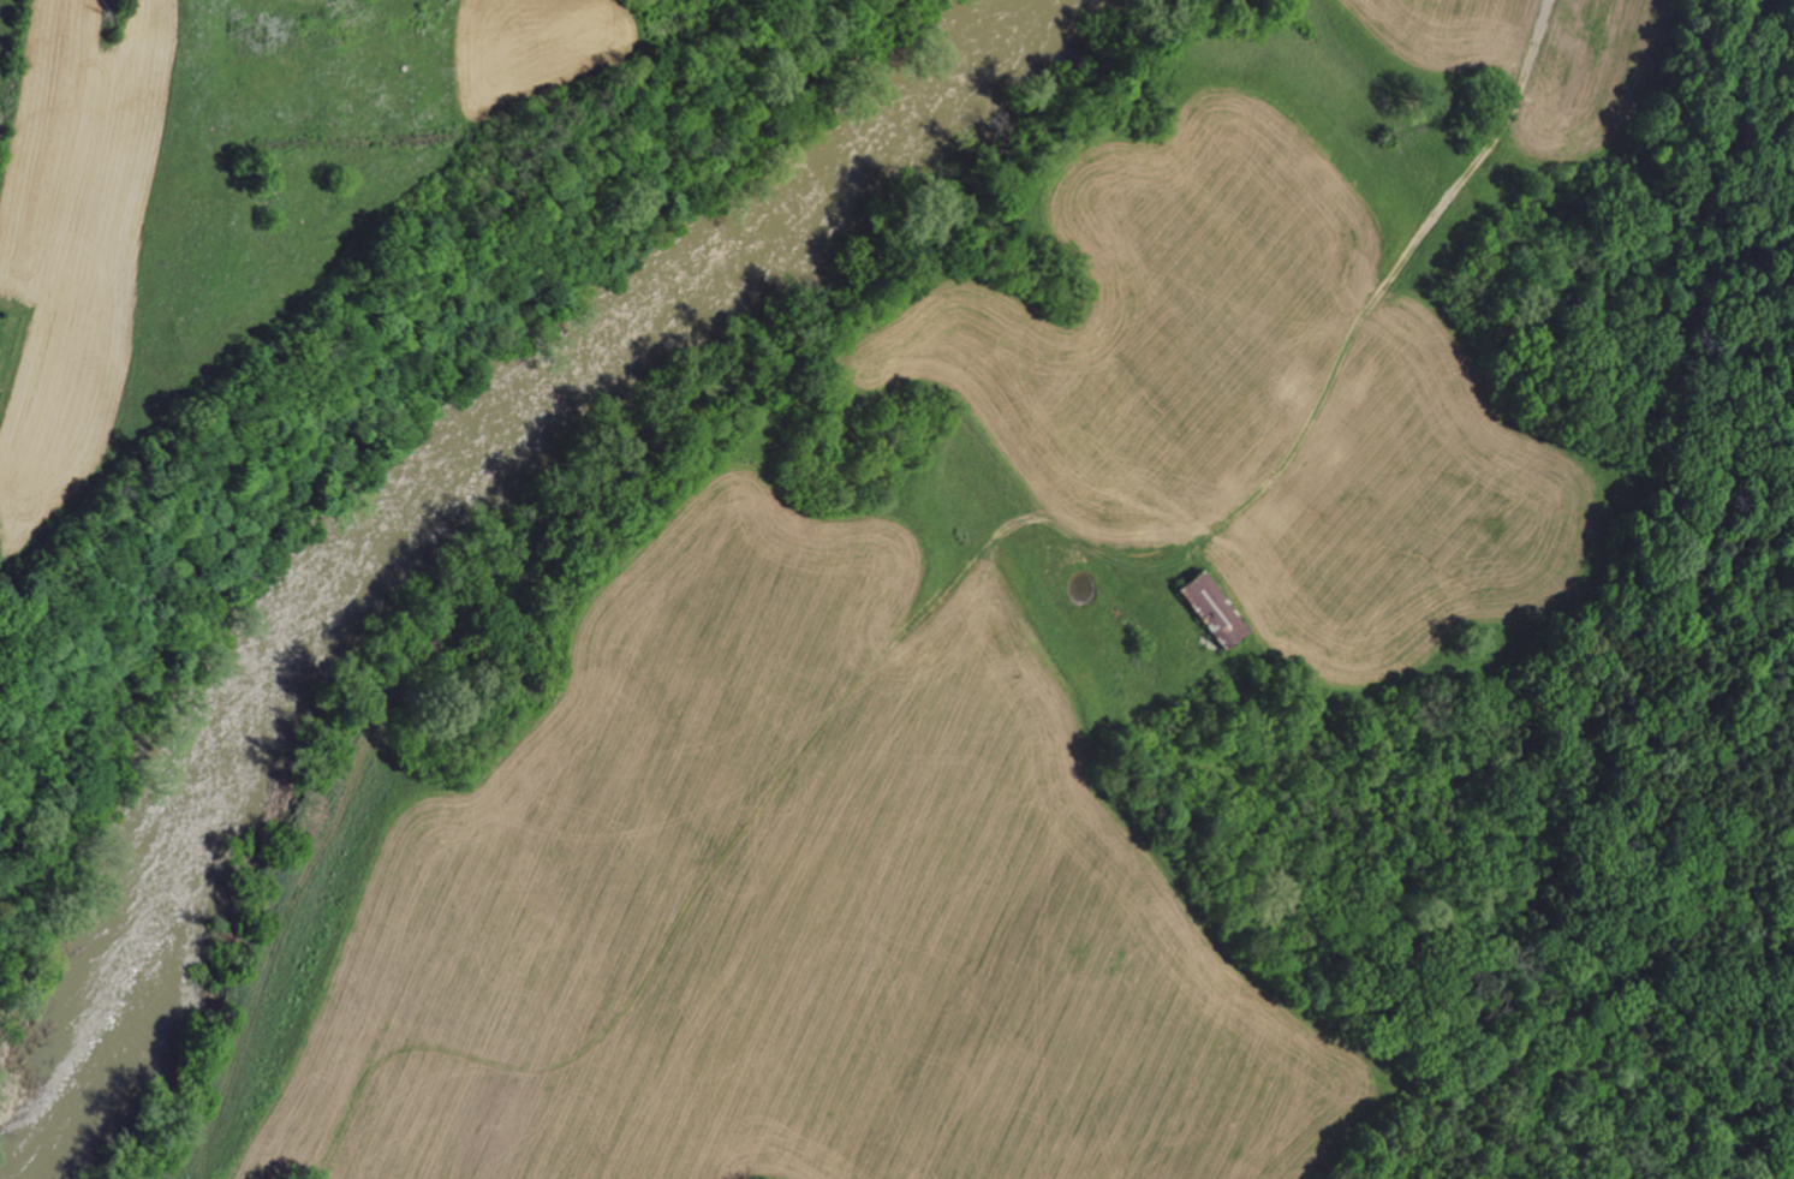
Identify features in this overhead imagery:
river: (365, 481)
building: (1210, 611)

